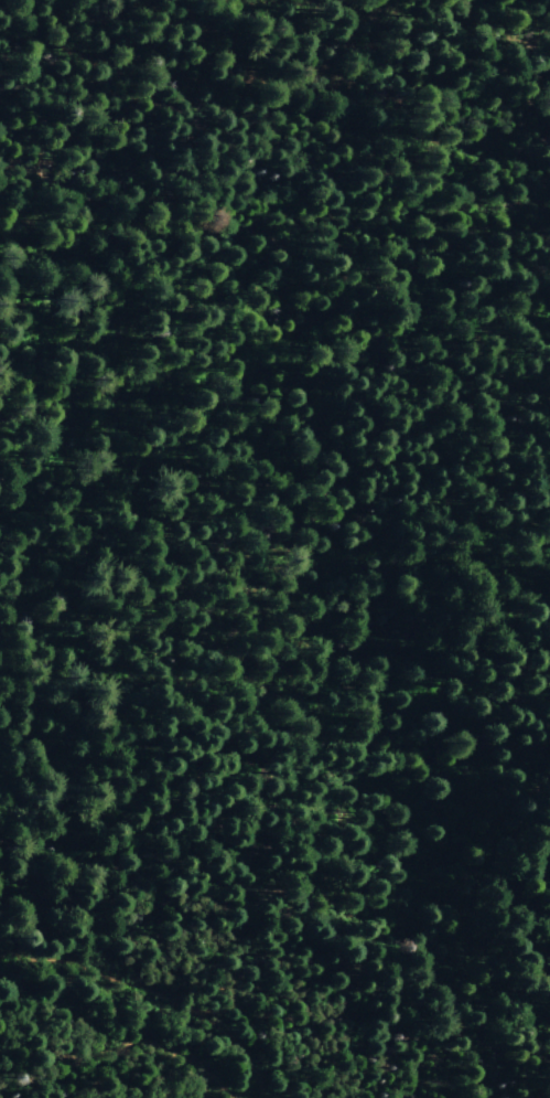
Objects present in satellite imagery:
road: (274, 71)
road: (148, 993)
road: (332, 1043)

